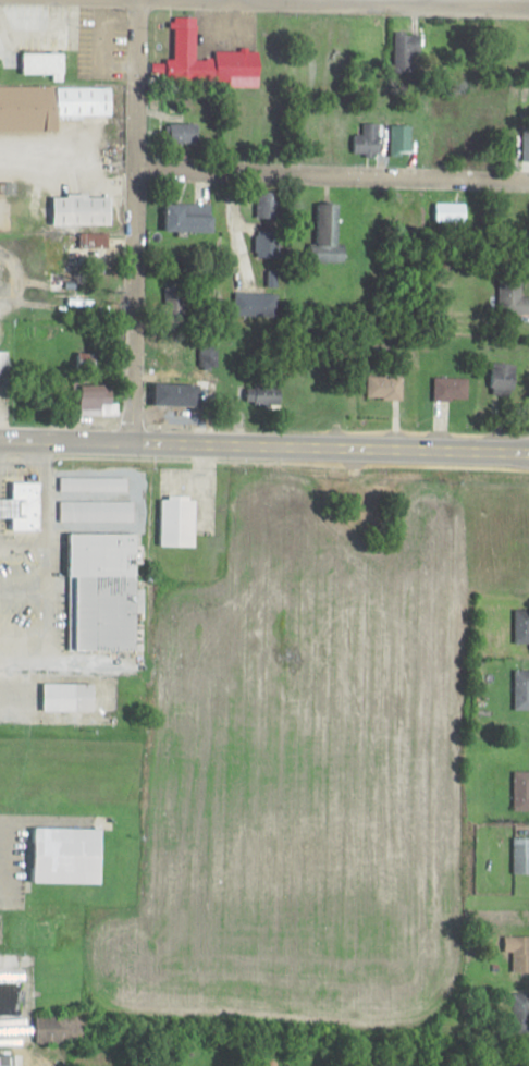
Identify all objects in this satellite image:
road: (394, 4)
building: (408, 44)
building: (187, 52)
building: (45, 62)
building: (238, 66)
building: (51, 105)
building: (184, 131)
building: (369, 138)
building: (403, 138)
building: (527, 139)
road: (331, 177)
building: (269, 204)
building: (85, 209)
building: (189, 219)
road: (133, 223)
building: (329, 233)
building: (269, 243)
building: (512, 295)
building: (256, 303)
building: (170, 350)
building: (4, 367)
building: (505, 377)
building: (384, 385)
building: (451, 388)
building: (179, 392)
building: (264, 393)
building: (99, 397)
road: (263, 449)
building: (78, 483)
building: (24, 505)
building: (97, 510)
building: (179, 519)
road: (40, 551)
building: (103, 590)
building: (521, 625)
building: (522, 688)
building: (70, 696)
building: (521, 788)
building: (70, 855)
building: (520, 855)
building: (520, 954)
building: (11, 997)
building: (522, 1010)
building: (62, 1029)
building: (8, 1059)

